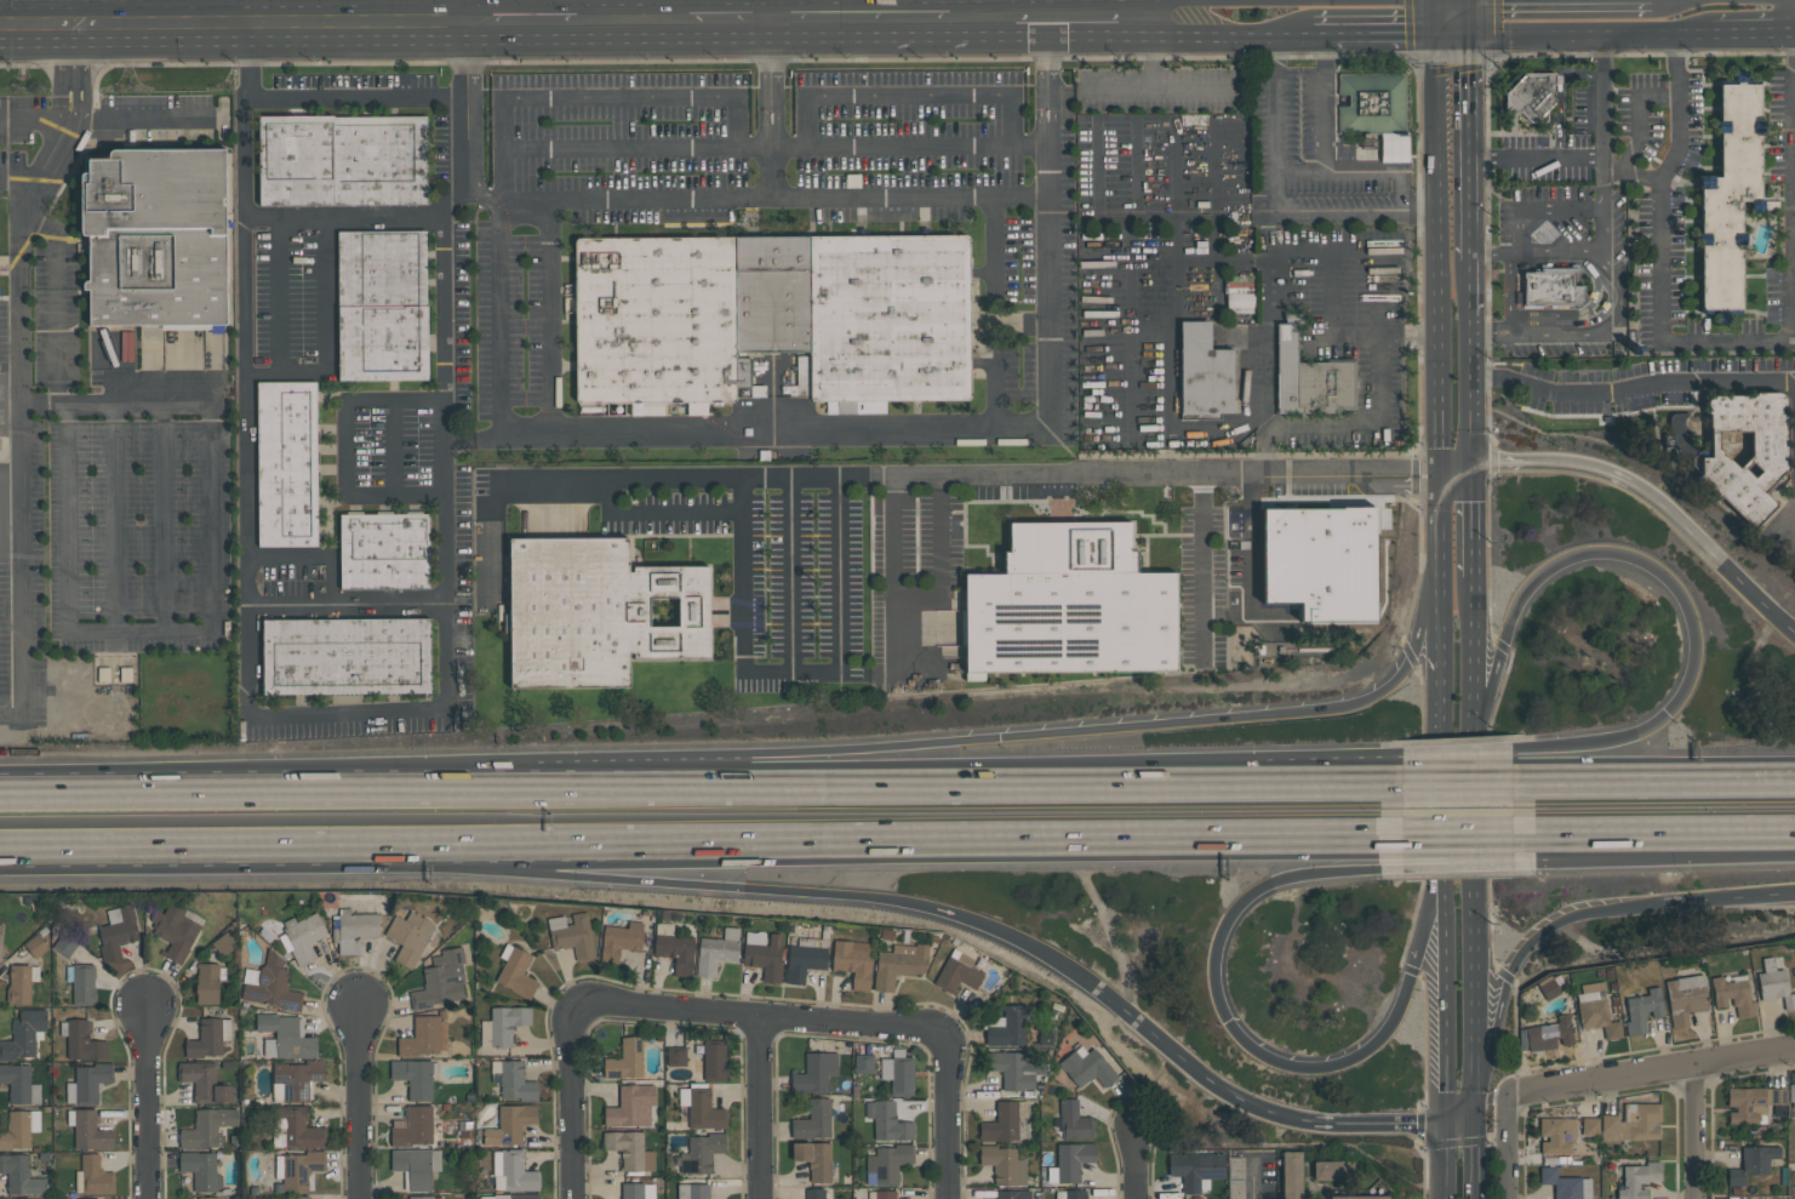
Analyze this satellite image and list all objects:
road: (1787, 5)
road: (478, 8)
road: (675, 8)
road: (819, 8)
road: (972, 8)
road: (1061, 8)
road: (74, 11)
road: (1437, 17)
road: (625, 18)
road: (1131, 18)
road: (1465, 18)
road: (142, 22)
road: (38, 23)
road: (1756, 32)
road: (1588, 33)
road: (1371, 34)
road: (1171, 35)
traffic signals: (1437, 35)
road: (1452, 35)
traffic signals: (1467, 36)
road: (70, 40)
road: (1154, 86)
road: (57, 90)
road: (79, 90)
road: (1117, 90)
building: (1531, 96)
road: (907, 97)
road: (355, 98)
road: (606, 99)
road: (1322, 102)
road: (1602, 103)
building: (1372, 104)
road: (34, 124)
road: (141, 124)
road: (905, 145)
road: (618, 147)
road: (1467, 149)
road: (1536, 159)
building: (341, 160)
road: (44, 169)
road: (1357, 170)
road: (21, 173)
road: (1636, 175)
road: (1605, 192)
building: (1726, 195)
road: (480, 198)
road: (817, 199)
road: (634, 201)
road: (1274, 204)
road: (1543, 210)
road: (344, 221)
parking lot: (1568, 222)
road: (1606, 230)
building: (156, 239)
road: (1579, 252)
building: (1102, 255)
road: (1664, 257)
road: (1439, 274)
road: (1469, 287)
building: (1550, 287)
building: (1237, 293)
road: (276, 297)
building: (382, 306)
building: (768, 315)
road: (990, 315)
road: (501, 319)
road: (1019, 325)
road: (322, 332)
road: (1490, 335)
parking lot: (1549, 335)
road: (1559, 335)
road: (246, 370)
building: (1202, 372)
building: (1309, 378)
road: (1631, 388)
road: (1469, 389)
road: (42, 407)
road: (1168, 427)
road: (1373, 427)
road: (983, 432)
road: (473, 436)
building: (1683, 441)
road: (343, 447)
road: (445, 457)
building: (1765, 462)
building: (286, 463)
road: (1510, 463)
traffic signals: (1469, 466)
road: (1453, 467)
traffic signals: (1439, 469)
road: (22, 476)
road: (967, 478)
road: (658, 512)
road: (1470, 521)
road: (1683, 527)
parking lot: (127, 536)
building: (383, 550)
road: (288, 556)
road: (1654, 571)
road: (790, 577)
road: (332, 582)
road: (932, 600)
road: (345, 604)
building: (1068, 605)
building: (595, 612)
road: (1228, 615)
road: (104, 632)
road: (1441, 643)
building: (345, 656)
road: (793, 674)
road: (1474, 674)
road: (1348, 704)
road: (840, 748)
road: (1471, 769)
road: (1654, 776)
road: (263, 777)
road: (965, 777)
road: (1471, 778)
road: (1417, 780)
road: (1475, 795)
road: (1445, 799)
road: (1654, 840)
road: (1460, 843)
road: (899, 844)
road: (196, 846)
road: (1554, 850)
road: (1460, 863)
road: (751, 890)
road: (1720, 901)
building: (353, 929)
building: (0, 930)
building: (116, 931)
building: (175, 931)
building: (572, 935)
building: (301, 936)
building: (411, 937)
building: (619, 941)
building: (223, 943)
building: (35, 946)
building: (674, 948)
building: (0, 949)
building: (716, 952)
road: (1445, 953)
building: (764, 954)
building: (807, 955)
road: (1476, 957)
road: (1520, 958)
building: (853, 961)
building: (899, 964)
building: (515, 971)
building: (956, 972)
building: (440, 980)
building: (79, 982)
building: (208, 982)
building: (21, 983)
building: (1774, 983)
building: (269, 984)
building: (1548, 987)
building: (1732, 994)
building: (1685, 998)
building: (1599, 1010)
building: (1642, 1010)
road: (761, 1022)
building: (502, 1026)
building: (1006, 1026)
building: (24, 1033)
building: (1549, 1034)
building: (285, 1037)
building: (208, 1038)
building: (423, 1038)
building: (82, 1041)
road: (1247, 1045)
building: (676, 1056)
building: (625, 1060)
building: (714, 1060)
building: (863, 1063)
building: (1087, 1067)
road: (1654, 1067)
building: (1013, 1069)
building: (814, 1072)
building: (898, 1073)
building: (415, 1077)
building: (295, 1079)
building: (513, 1080)
road: (1208, 1080)
building: (88, 1081)
building: (204, 1081)
building: (18, 1084)
building: (1791, 1094)
road: (1608, 1096)
road: (147, 1102)
road: (574, 1102)
building: (1754, 1103)
road: (360, 1104)
road: (1444, 1104)
building: (630, 1106)
building: (701, 1107)
road: (756, 1110)
road: (1476, 1112)
road: (947, 1113)
building: (813, 1120)
building: (887, 1121)
building: (1004, 1121)
building: (1074, 1121)
building: (1631, 1123)
road: (1396, 1124)
building: (510, 1125)
building: (412, 1126)
building: (1589, 1126)
building: (207, 1127)
building: (296, 1127)
building: (19, 1129)
traffic signals: (1444, 1129)
building: (88, 1130)
road: (1688, 1130)
road: (1459, 1131)
traffic signals: (1476, 1134)
building: (1557, 1135)
road: (1504, 1142)
building: (629, 1151)
building: (701, 1152)
building: (813, 1159)
building: (1070, 1161)
building: (1751, 1163)
building: (887, 1164)
building: (1004, 1164)
road: (1444, 1164)
building: (416, 1166)
road: (1136, 1166)
road: (1476, 1166)
building: (297, 1169)
building: (1196, 1169)
building: (201, 1170)
building: (1332, 1170)
building: (511, 1171)
building: (19, 1175)
building: (1291, 1175)
building: (93, 1177)
road: (1253, 1178)
building: (1637, 1180)
building: (1235, 1181)
building: (1565, 1184)
building: (636, 1191)
building: (693, 1192)
building: (814, 1194)
building: (881, 1194)
building: (1013, 1194)
building: (1070, 1194)
building: (511, 1195)
building: (297, 1197)
building: (421, 1197)
building: (1359, 1197)
building: (212, 1198)

